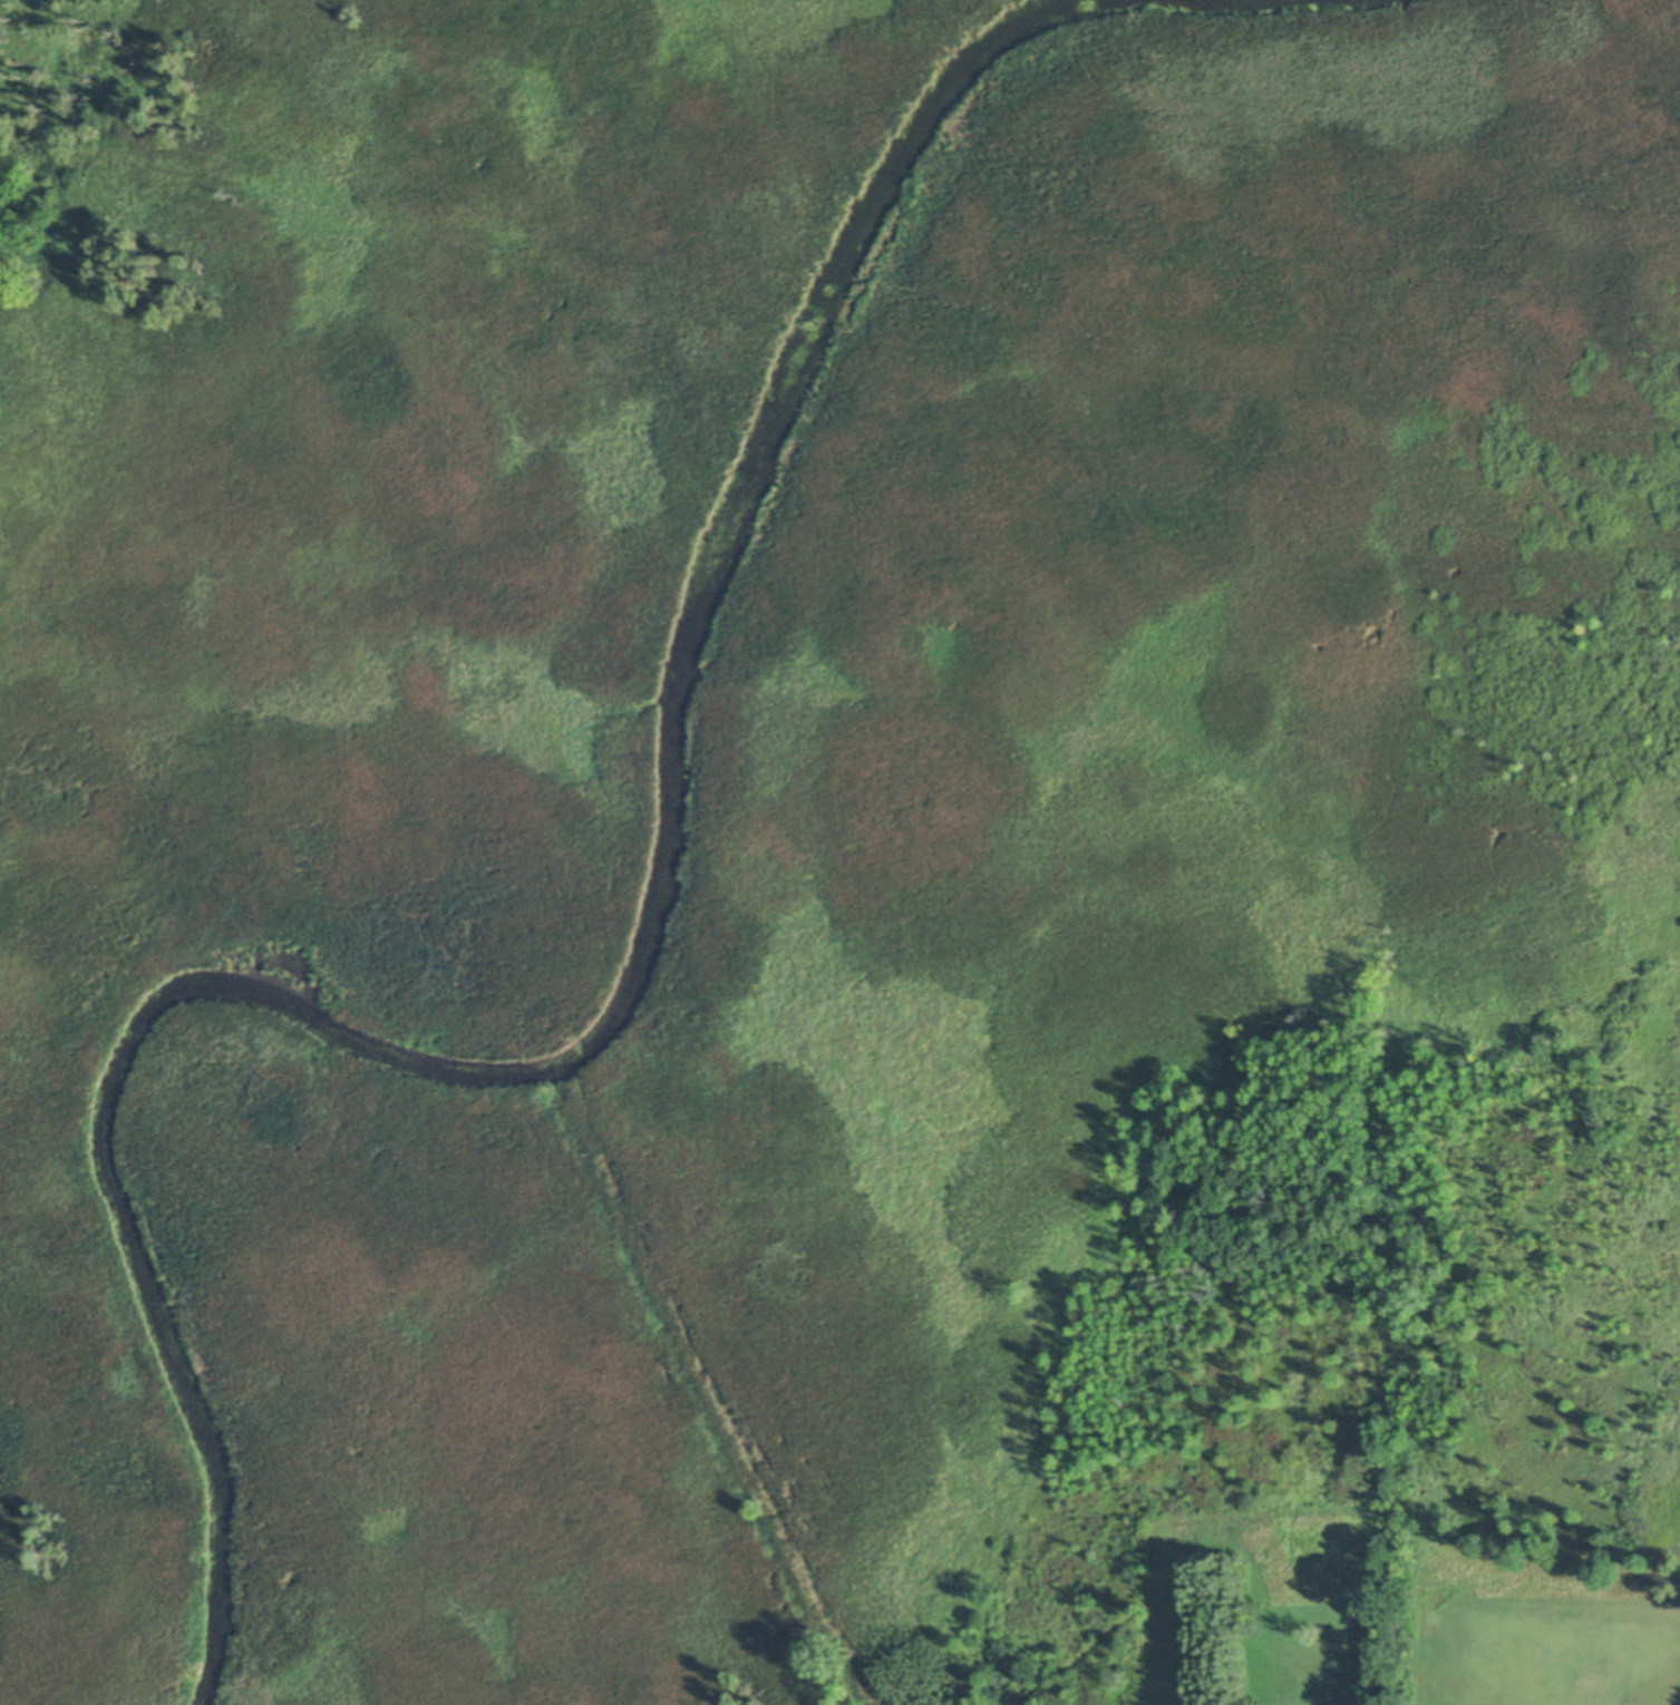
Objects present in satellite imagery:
river: (583, 1046)

